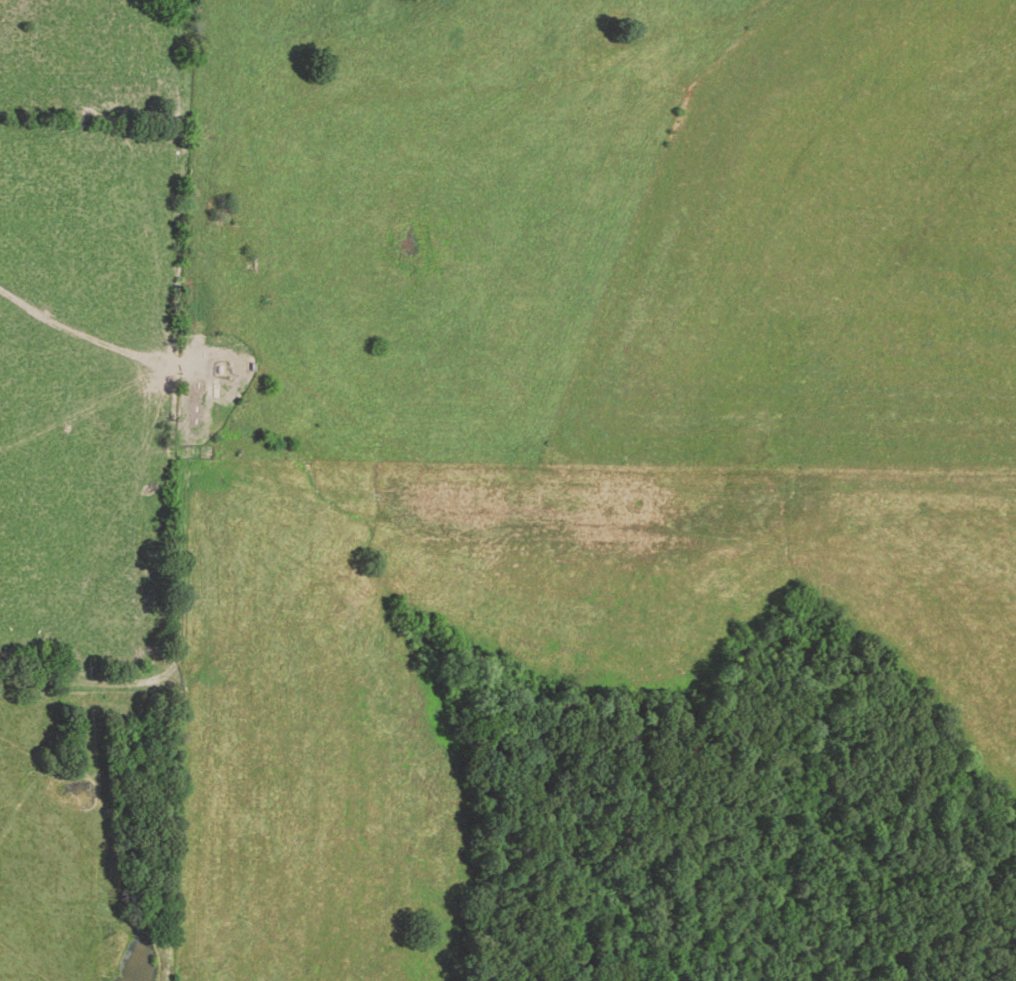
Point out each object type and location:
road: (176, 632)

